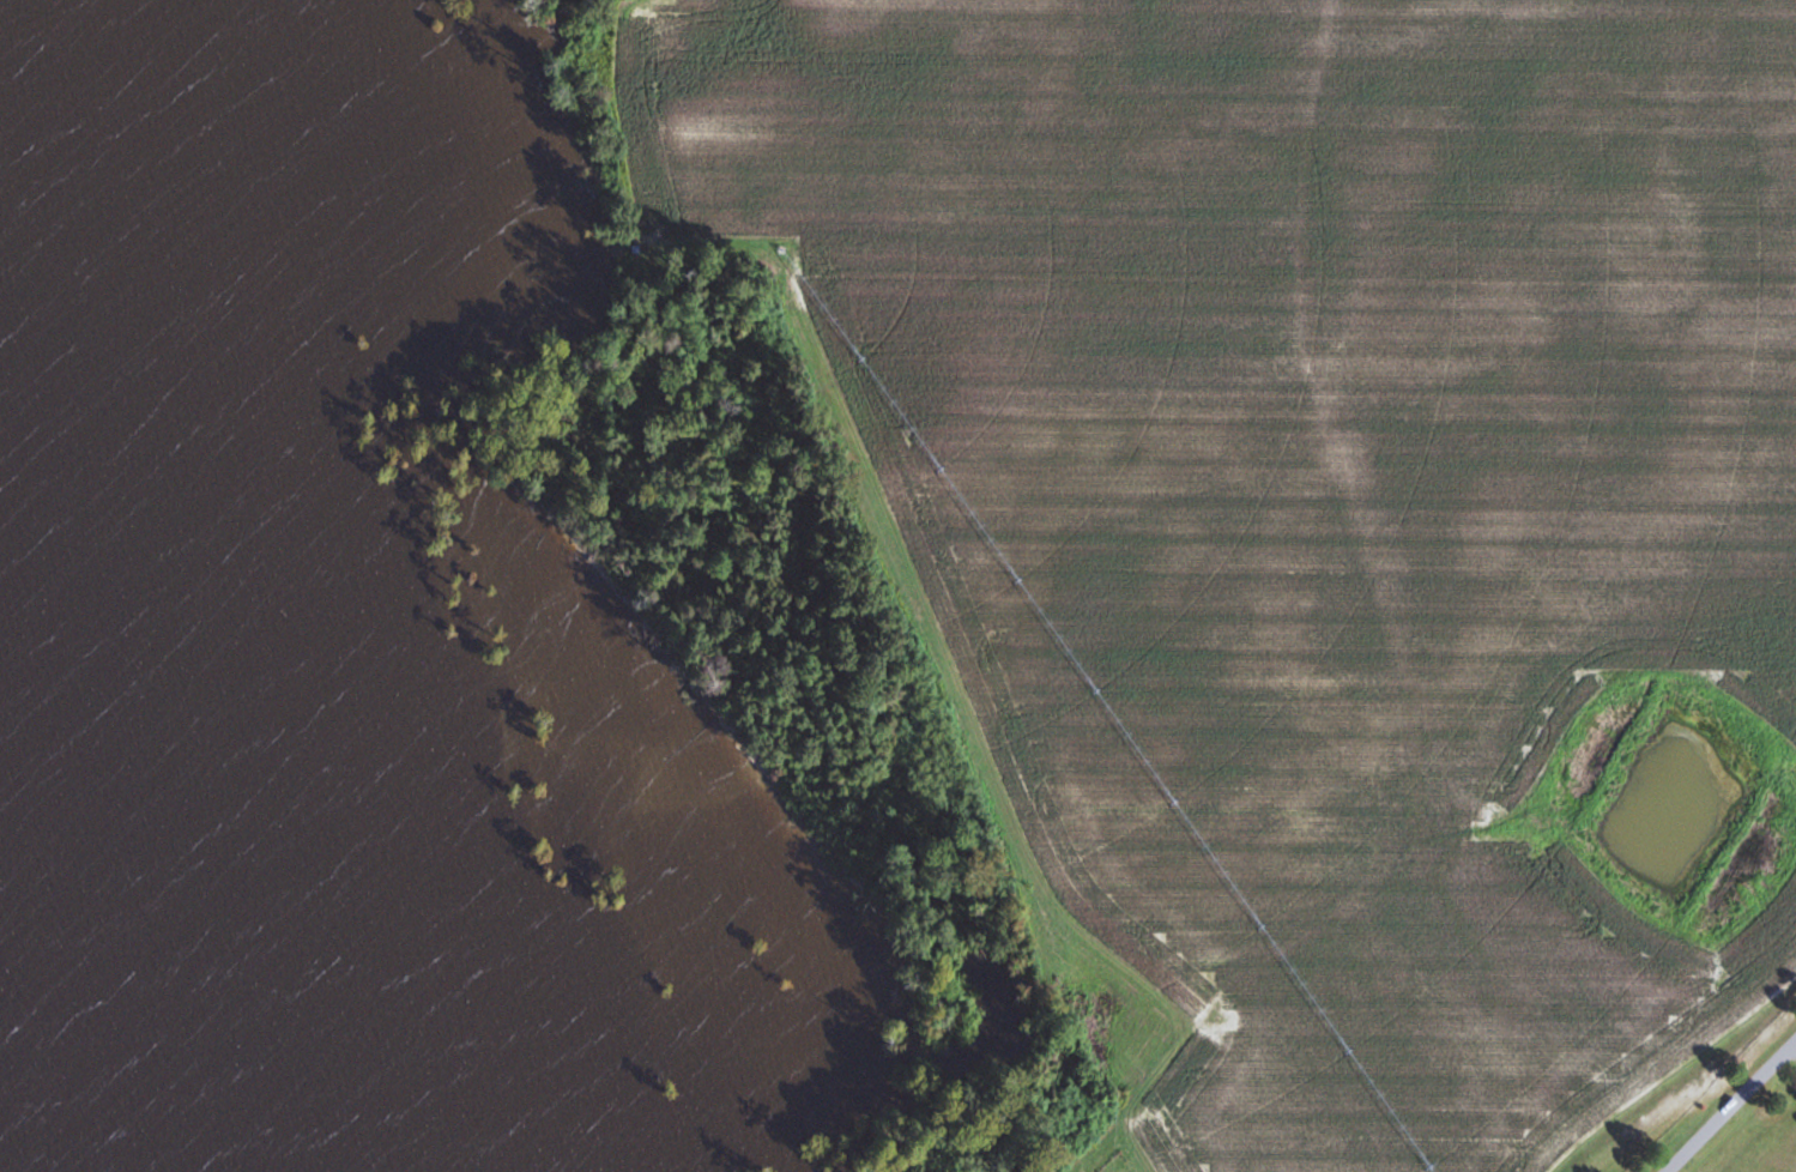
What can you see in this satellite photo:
road: (1732, 1107)

